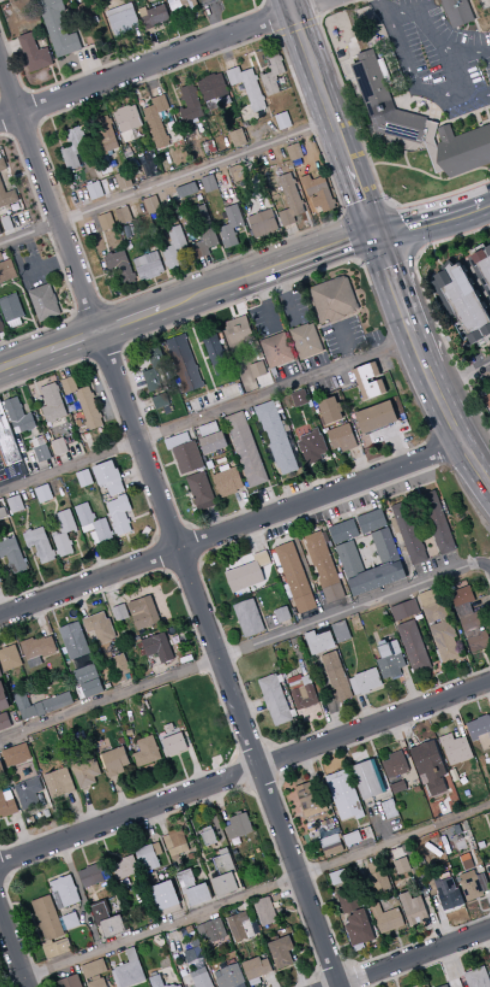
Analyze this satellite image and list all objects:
building: (153, 0)
road: (276, 2)
road: (265, 3)
building: (182, 5)
road: (254, 5)
road: (290, 6)
road: (383, 6)
building: (444, 8)
road: (314, 9)
building: (458, 12)
building: (153, 16)
building: (122, 19)
road: (212, 19)
road: (272, 20)
road: (319, 21)
building: (58, 27)
road: (296, 27)
road: (432, 33)
building: (489, 35)
road: (275, 36)
building: (352, 43)
road: (155, 44)
road: (282, 45)
road: (142, 46)
road: (9, 47)
road: (226, 52)
road: (483, 52)
building: (34, 53)
road: (255, 57)
road: (160, 61)
road: (115, 62)
road: (91, 65)
road: (312, 66)
road: (264, 68)
road: (454, 69)
building: (384, 70)
road: (409, 73)
building: (261, 74)
building: (273, 74)
road: (151, 81)
building: (212, 87)
building: (248, 87)
road: (475, 92)
road: (14, 99)
road: (120, 99)
building: (384, 101)
building: (191, 104)
road: (29, 108)
road: (488, 114)
road: (86, 115)
road: (465, 115)
road: (6, 117)
building: (127, 118)
road: (478, 119)
building: (157, 121)
building: (283, 121)
road: (485, 122)
road: (37, 123)
road: (167, 125)
road: (23, 126)
road: (56, 131)
road: (11, 133)
building: (105, 134)
building: (238, 137)
road: (363, 141)
road: (307, 143)
road: (341, 143)
building: (433, 146)
building: (73, 147)
building: (61, 148)
building: (464, 149)
building: (295, 151)
road: (268, 158)
road: (405, 159)
building: (2, 164)
road: (196, 171)
building: (238, 173)
road: (431, 175)
road: (19, 176)
building: (123, 180)
road: (255, 180)
building: (209, 183)
building: (95, 190)
building: (186, 190)
building: (321, 193)
road: (49, 195)
building: (7, 196)
road: (280, 196)
building: (290, 199)
road: (362, 200)
road: (136, 204)
building: (152, 204)
road: (181, 204)
road: (316, 204)
road: (389, 206)
road: (316, 211)
road: (367, 212)
building: (123, 215)
road: (343, 215)
building: (106, 221)
building: (7, 223)
road: (310, 223)
building: (263, 224)
building: (231, 226)
building: (243, 226)
road: (241, 231)
building: (0, 232)
building: (204, 232)
road: (30, 233)
traffic signals: (374, 233)
road: (282, 234)
road: (248, 239)
road: (271, 239)
road: (353, 239)
road: (295, 240)
building: (174, 247)
road: (224, 253)
building: (1, 257)
road: (58, 257)
road: (392, 260)
building: (484, 263)
road: (46, 265)
building: (149, 266)
road: (194, 266)
building: (119, 269)
building: (7, 271)
road: (210, 273)
road: (367, 274)
road: (98, 277)
road: (242, 277)
road: (155, 282)
road: (392, 282)
road: (56, 294)
road: (285, 295)
road: (25, 297)
building: (334, 299)
road: (267, 301)
building: (44, 302)
building: (463, 303)
road: (104, 304)
building: (11, 308)
road: (431, 309)
road: (91, 310)
road: (232, 311)
road: (77, 314)
road: (338, 319)
building: (14, 323)
building: (1, 326)
road: (110, 326)
building: (239, 330)
road: (86, 336)
building: (306, 340)
road: (346, 340)
road: (201, 343)
road: (121, 347)
road: (418, 349)
building: (277, 350)
road: (106, 351)
building: (216, 352)
road: (92, 358)
road: (207, 358)
road: (60, 361)
building: (184, 363)
road: (206, 364)
road: (198, 367)
building: (154, 369)
building: (258, 370)
road: (461, 375)
building: (362, 381)
building: (69, 385)
road: (20, 387)
road: (38, 392)
building: (299, 398)
building: (161, 401)
building: (487, 401)
building: (52, 402)
building: (89, 408)
road: (140, 409)
building: (330, 411)
building: (17, 415)
road: (206, 415)
building: (376, 417)
road: (41, 418)
building: (208, 429)
road: (453, 431)
road: (385, 434)
building: (48, 436)
building: (277, 437)
building: (342, 438)
building: (177, 440)
building: (7, 441)
building: (38, 441)
building: (213, 442)
building: (60, 448)
road: (397, 448)
building: (246, 449)
building: (313, 449)
building: (42, 452)
building: (188, 457)
road: (175, 461)
road: (361, 463)
road: (169, 464)
road: (32, 466)
building: (224, 468)
road: (135, 475)
building: (109, 477)
building: (84, 478)
road: (315, 481)
road: (140, 482)
building: (228, 482)
road: (272, 490)
building: (201, 491)
building: (44, 493)
road: (159, 496)
road: (190, 497)
building: (15, 504)
road: (246, 505)
road: (56, 507)
building: (2, 510)
building: (85, 514)
building: (120, 514)
road: (132, 515)
road: (27, 516)
road: (140, 516)
road: (214, 521)
building: (371, 521)
building: (111, 522)
building: (437, 522)
building: (88, 528)
road: (229, 529)
building: (103, 530)
road: (187, 530)
building: (343, 531)
building: (64, 532)
building: (407, 532)
road: (126, 534)
road: (174, 537)
road: (159, 539)
road: (74, 541)
road: (129, 542)
building: (383, 543)
building: (39, 545)
building: (8, 547)
road: (80, 551)
road: (98, 553)
road: (483, 563)
building: (323, 567)
building: (366, 572)
building: (247, 573)
road: (40, 575)
building: (295, 578)
road: (13, 586)
road: (3, 604)
building: (404, 610)
building: (142, 612)
road: (349, 612)
building: (119, 613)
building: (282, 615)
building: (248, 618)
building: (470, 622)
building: (438, 626)
building: (99, 627)
building: (340, 632)
building: (74, 641)
building: (319, 642)
building: (413, 646)
building: (158, 648)
building: (36, 650)
building: (9, 658)
building: (390, 661)
building: (119, 668)
building: (0, 675)
building: (336, 676)
building: (88, 681)
building: (365, 682)
building: (3, 699)
road: (111, 700)
building: (275, 701)
building: (40, 705)
building: (4, 722)
building: (480, 731)
building: (175, 744)
building: (455, 749)
building: (146, 752)
building: (16, 755)
building: (395, 765)
building: (114, 766)
building: (429, 766)
building: (1, 771)
road: (245, 771)
building: (86, 772)
building: (367, 779)
building: (59, 783)
building: (397, 787)
building: (28, 793)
building: (343, 796)
building: (308, 800)
building: (7, 803)
building: (389, 809)
road: (280, 824)
building: (238, 827)
building: (208, 836)
building: (351, 838)
building: (176, 843)
building: (331, 845)
building: (148, 856)
building: (467, 863)
building: (401, 866)
building: (489, 866)
building: (124, 868)
building: (92, 875)
building: (224, 876)
building: (340, 877)
building: (377, 878)
building: (472, 885)
building: (194, 889)
building: (64, 892)
building: (447, 892)
building: (164, 896)
road: (78, 897)
road: (251, 898)
building: (346, 899)
building: (413, 909)
building: (264, 912)
building: (386, 919)
building: (70, 921)
building: (108, 921)
building: (240, 927)
building: (50, 928)
building: (358, 928)
building: (212, 931)
road: (13, 948)
building: (281, 953)
building: (193, 955)
road: (412, 959)
building: (489, 965)
building: (256, 968)
building: (93, 969)
building: (128, 971)
building: (228, 976)
building: (200, 978)
building: (477, 978)
building: (156, 981)
building: (70, 982)
building: (100, 983)
building: (176, 985)
building: (445, 986)

